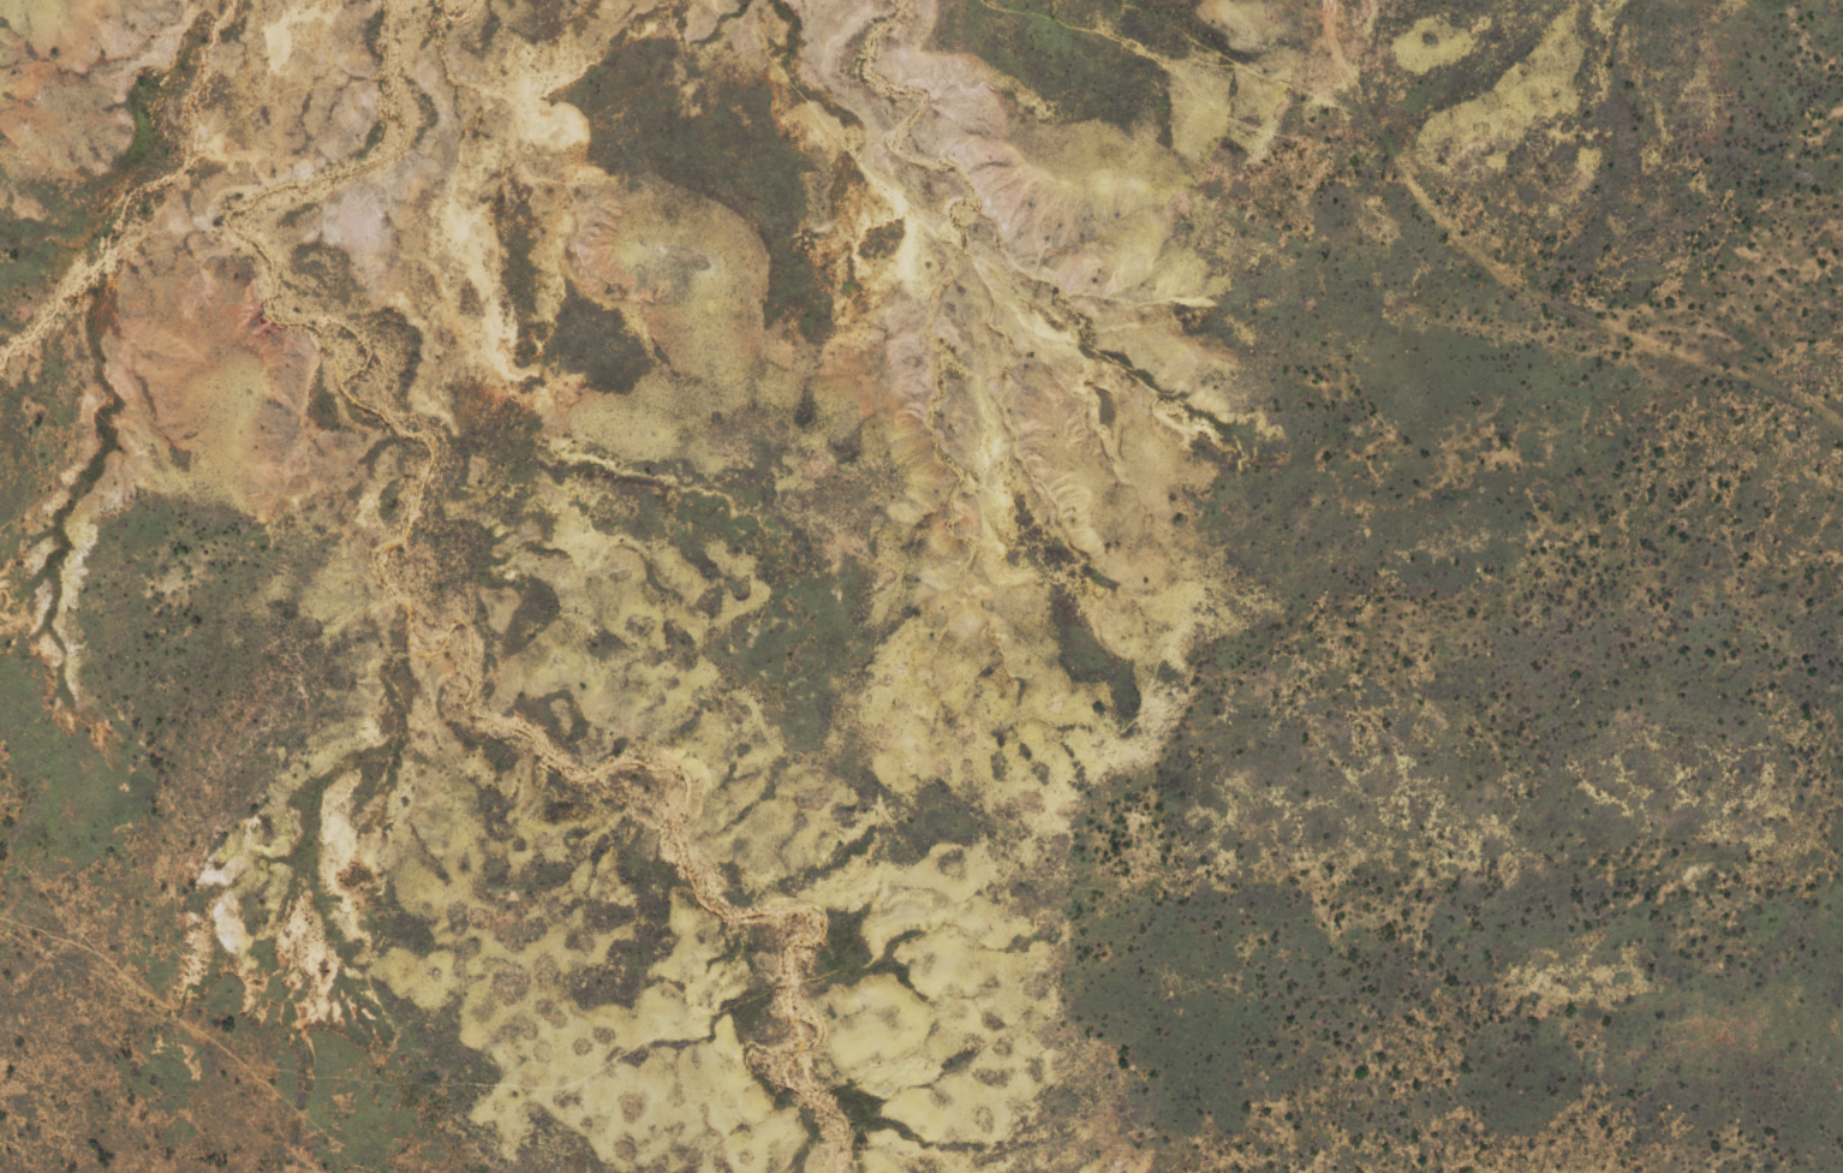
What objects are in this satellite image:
road: (1543, 251)

